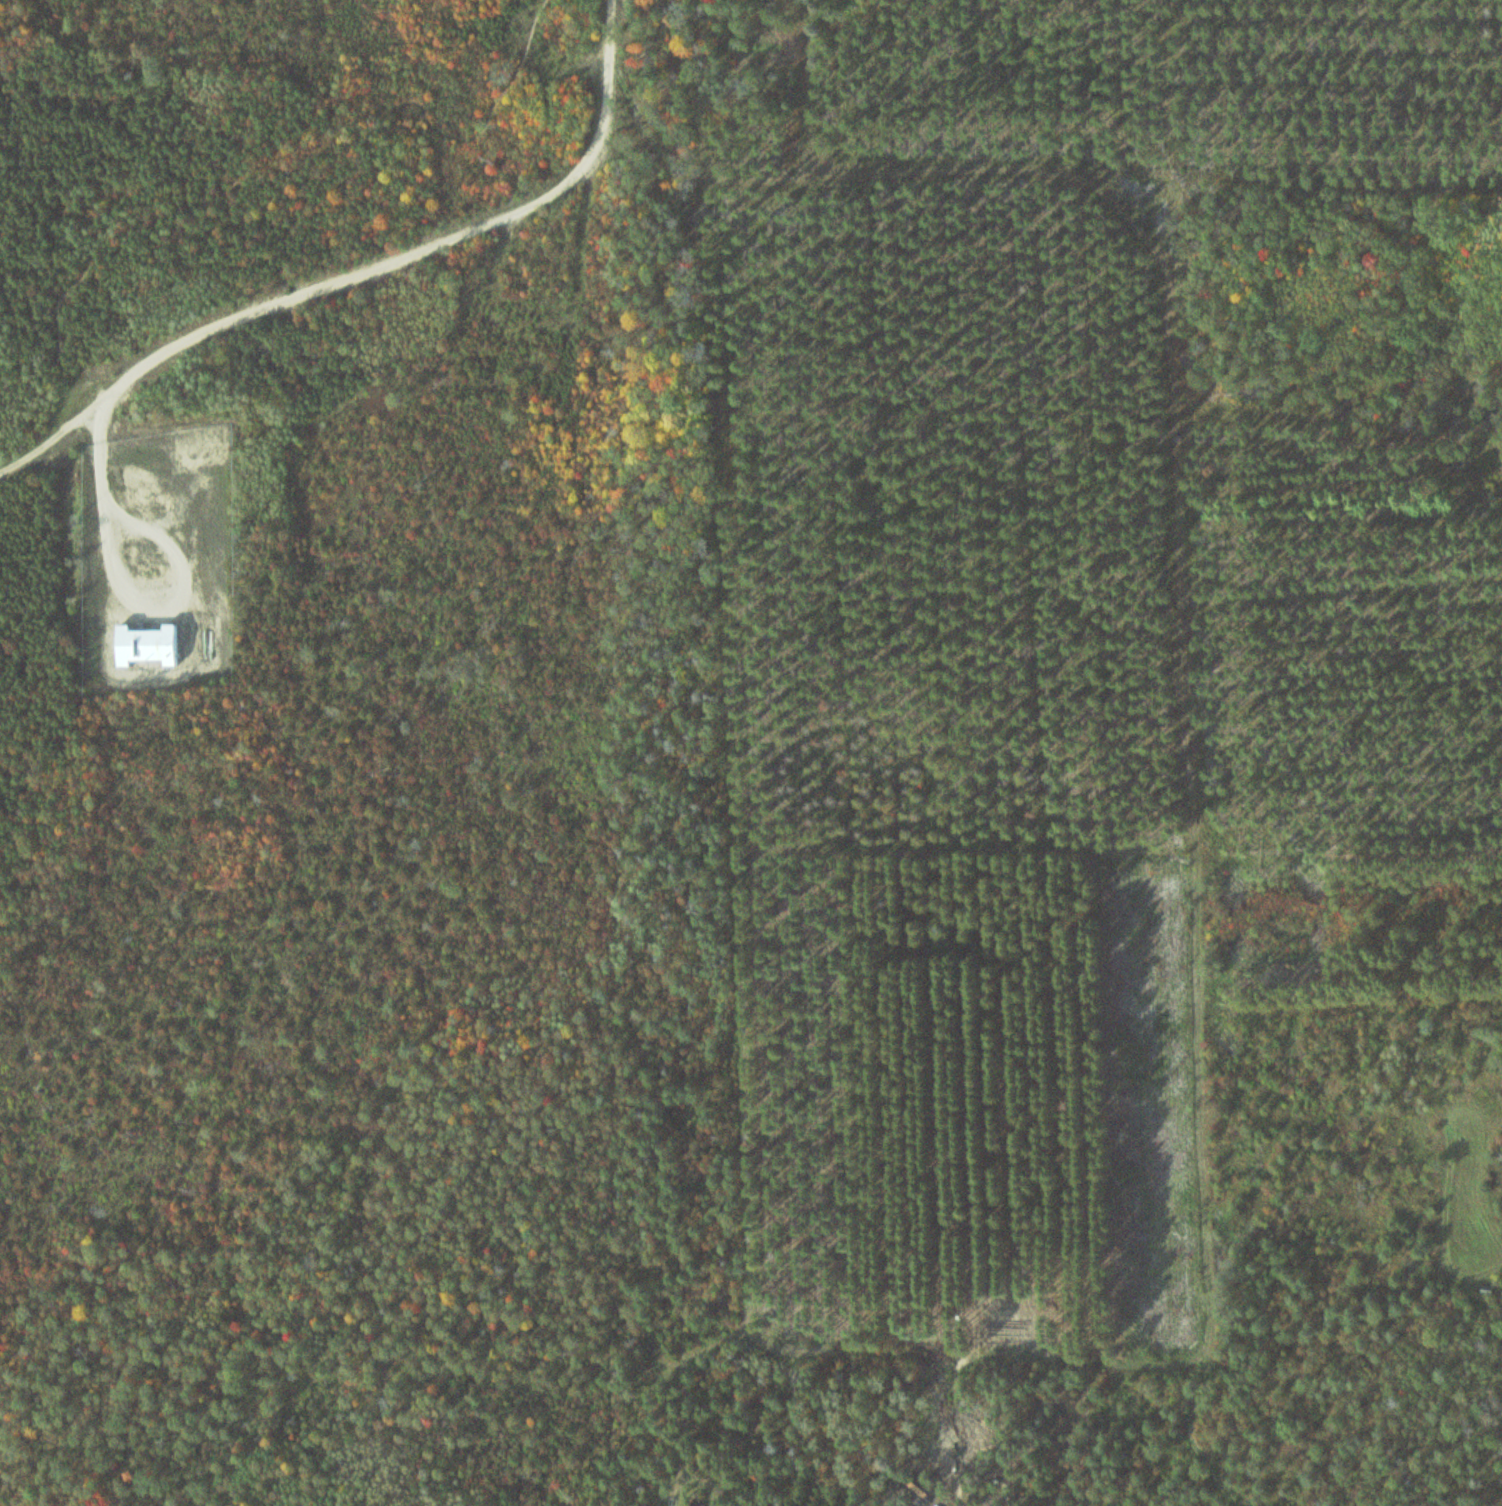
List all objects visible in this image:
road: (261, 166)
road: (418, 245)
road: (46, 439)
building: (147, 646)
building: (1130, 1329)

